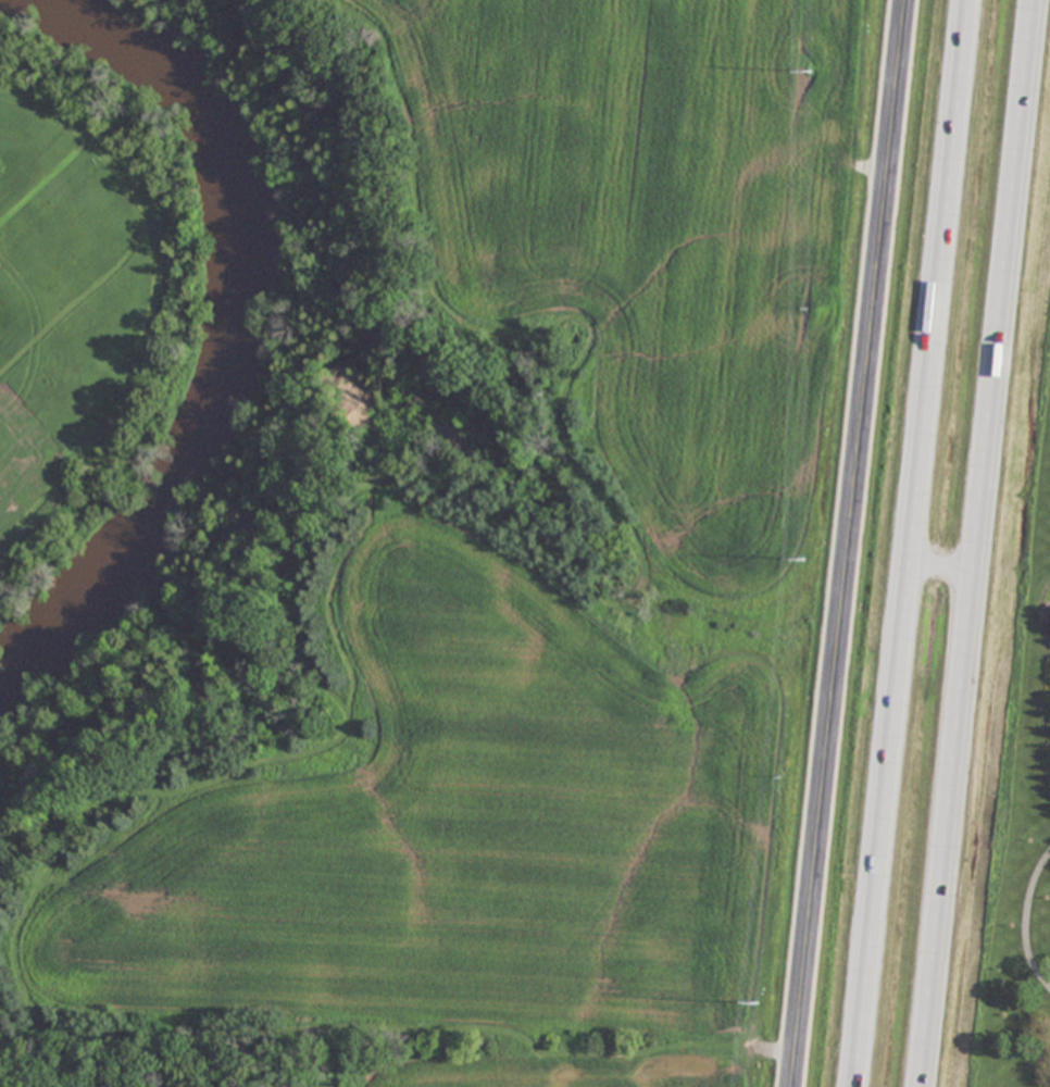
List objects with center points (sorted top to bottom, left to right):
park: (83, 295)
river: (227, 329)
road: (911, 542)
road: (848, 543)
road: (985, 543)
crop: (551, 596)
road: (1023, 919)

